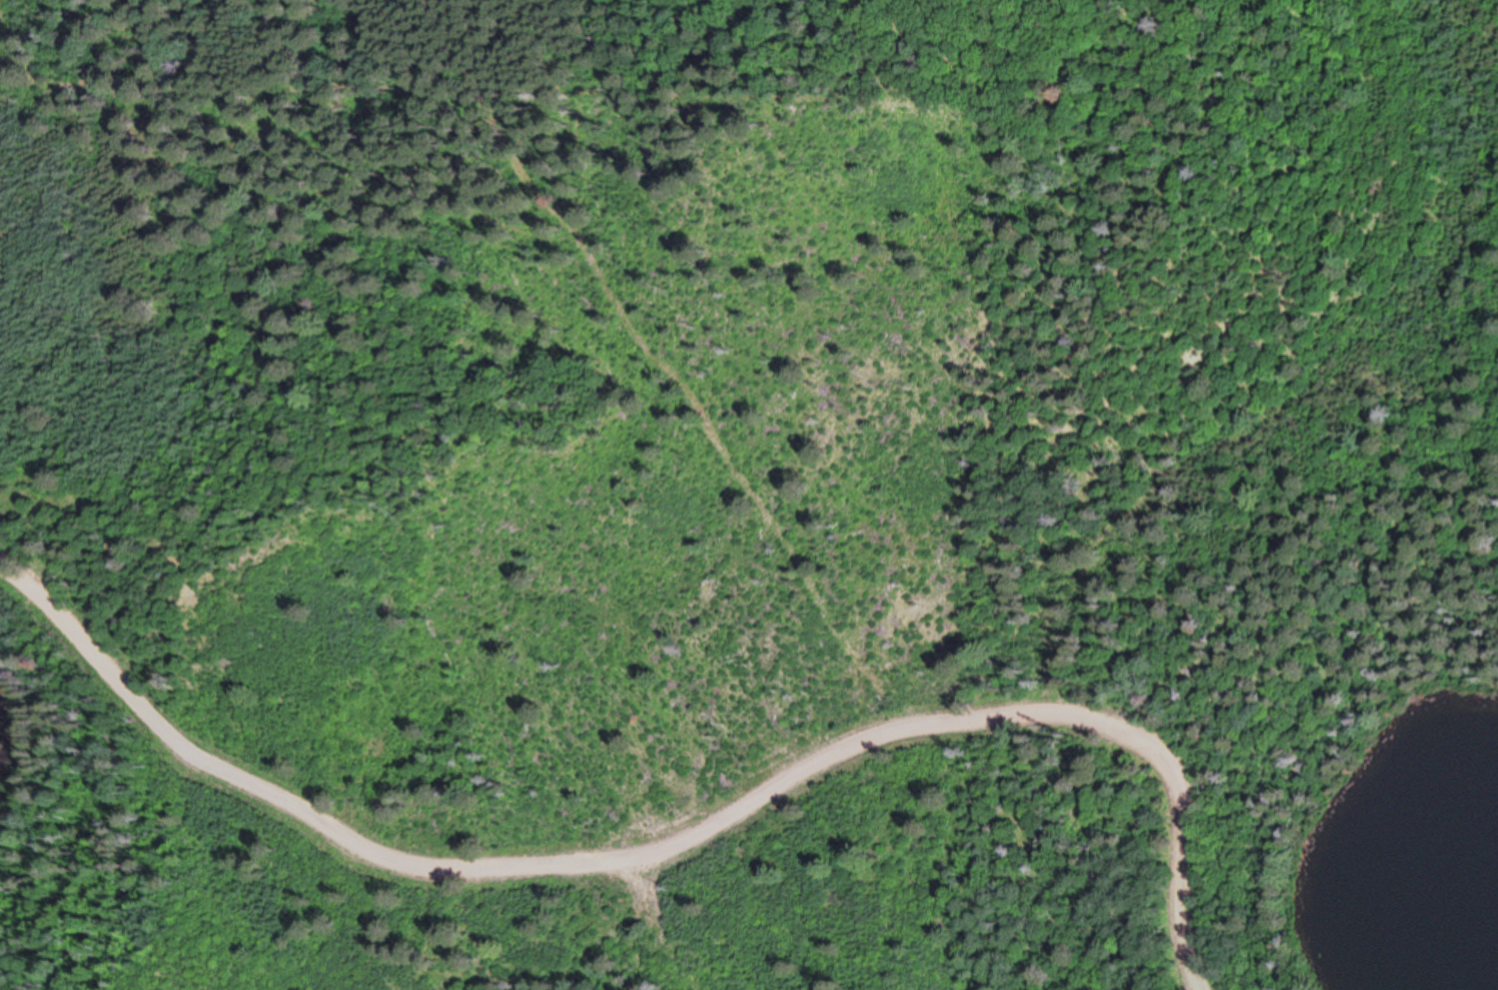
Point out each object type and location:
road: (663, 850)

